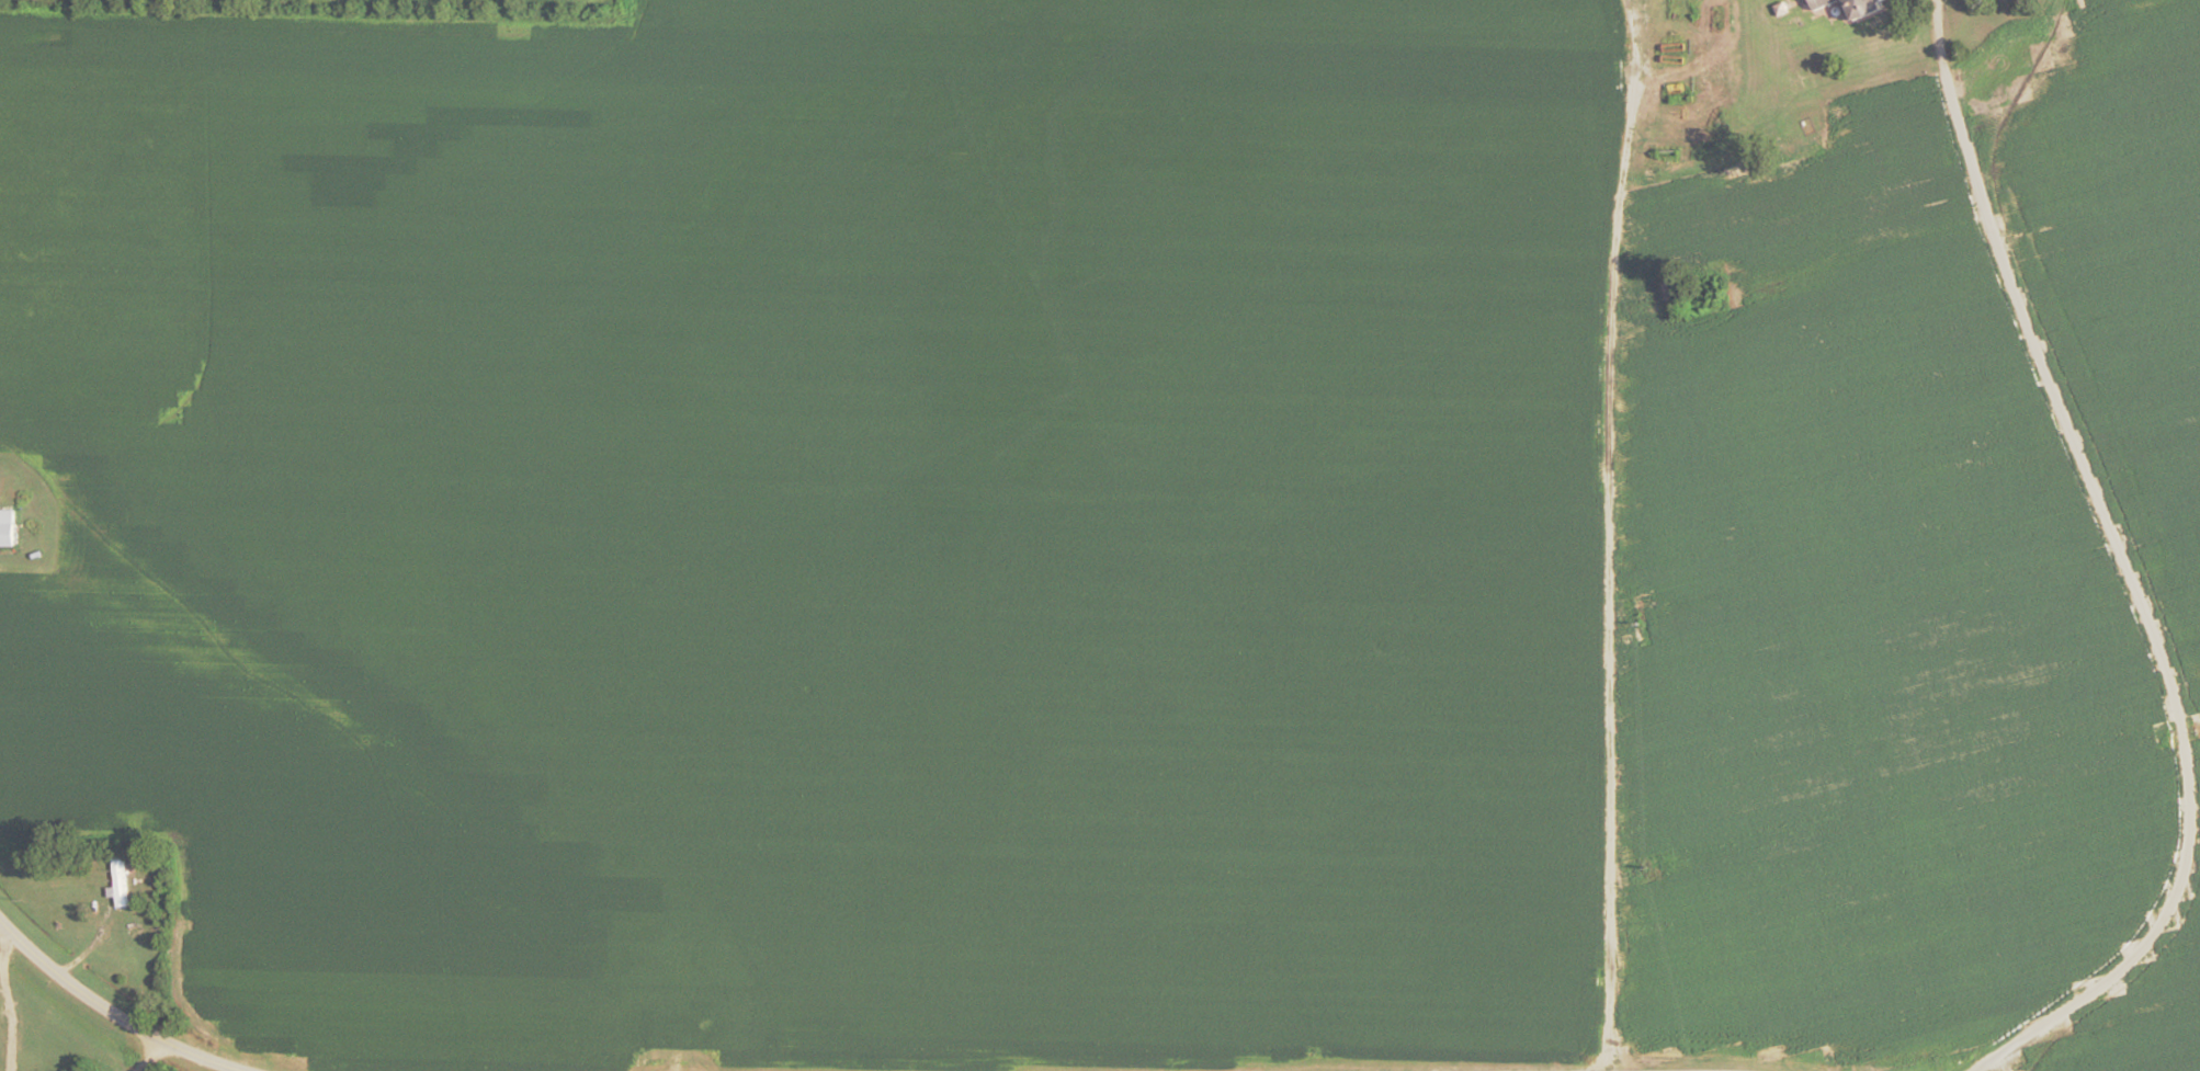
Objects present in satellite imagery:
building: (1849, 8)
road: (1619, 535)
building: (5, 536)
road: (2116, 568)
road: (8, 1005)
road: (103, 1012)
road: (151, 1058)

